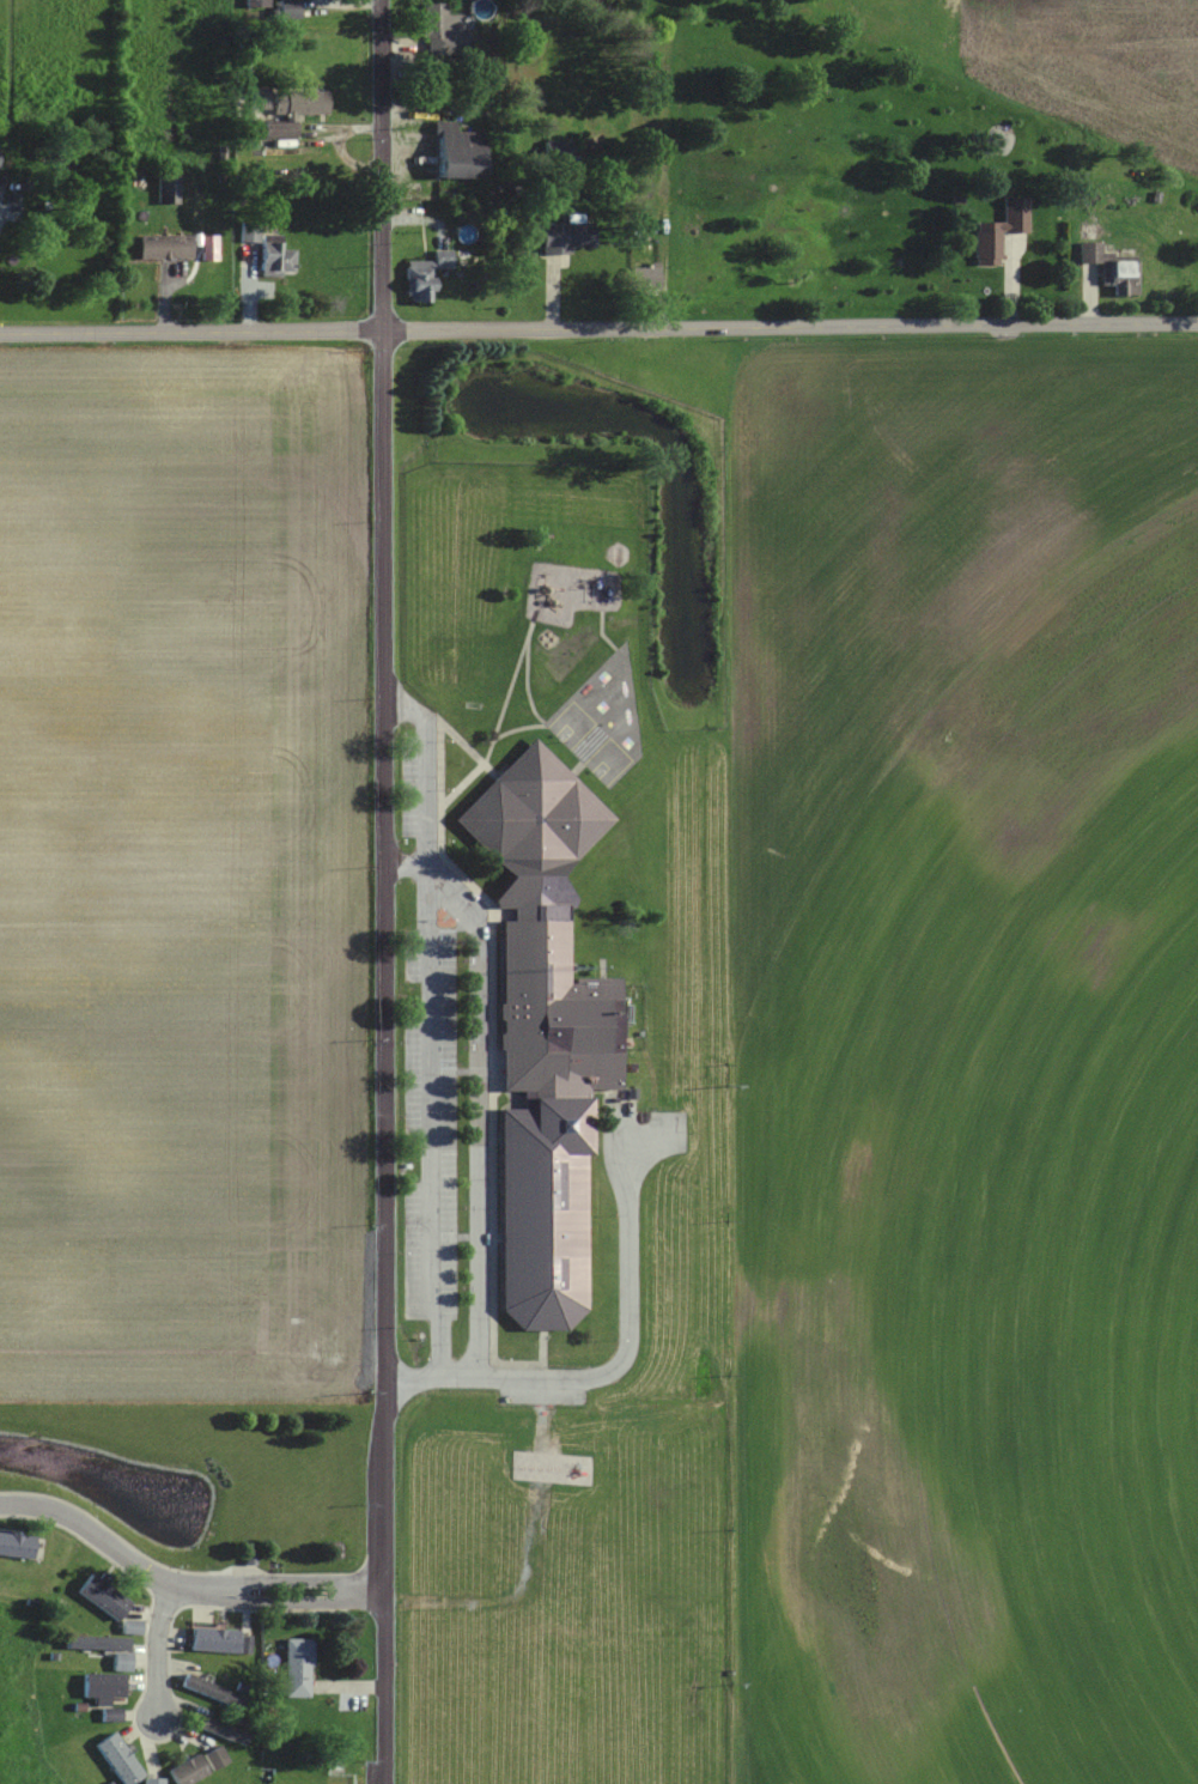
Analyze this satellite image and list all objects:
building: (259, 5)
building: (291, 8)
building: (444, 30)
building: (302, 103)
building: (274, 129)
building: (559, 151)
building: (461, 152)
building: (169, 189)
building: (1001, 230)
building: (251, 231)
building: (570, 237)
building: (166, 245)
building: (279, 259)
building: (1113, 268)
building: (426, 275)
building: (646, 278)
road: (791, 326)
road: (193, 330)
park: (457, 562)
road: (389, 698)
road: (406, 867)
road: (432, 873)
road: (384, 891)
road: (428, 1002)
building: (546, 1033)
parking lot: (427, 1034)
crop: (963, 1055)
road: (478, 1121)
road: (649, 1131)
parking lot: (636, 1146)
road: (612, 1152)
road: (442, 1348)
road: (586, 1378)
road: (92, 1533)
building: (17, 1546)
road: (281, 1579)
building: (104, 1597)
road: (280, 1602)
building: (133, 1627)
building: (223, 1642)
building: (105, 1649)
road: (159, 1650)
building: (299, 1668)
building: (105, 1687)
building: (213, 1692)
building: (220, 1728)
building: (218, 1758)
building: (121, 1759)
building: (190, 1771)
building: (154, 1782)

